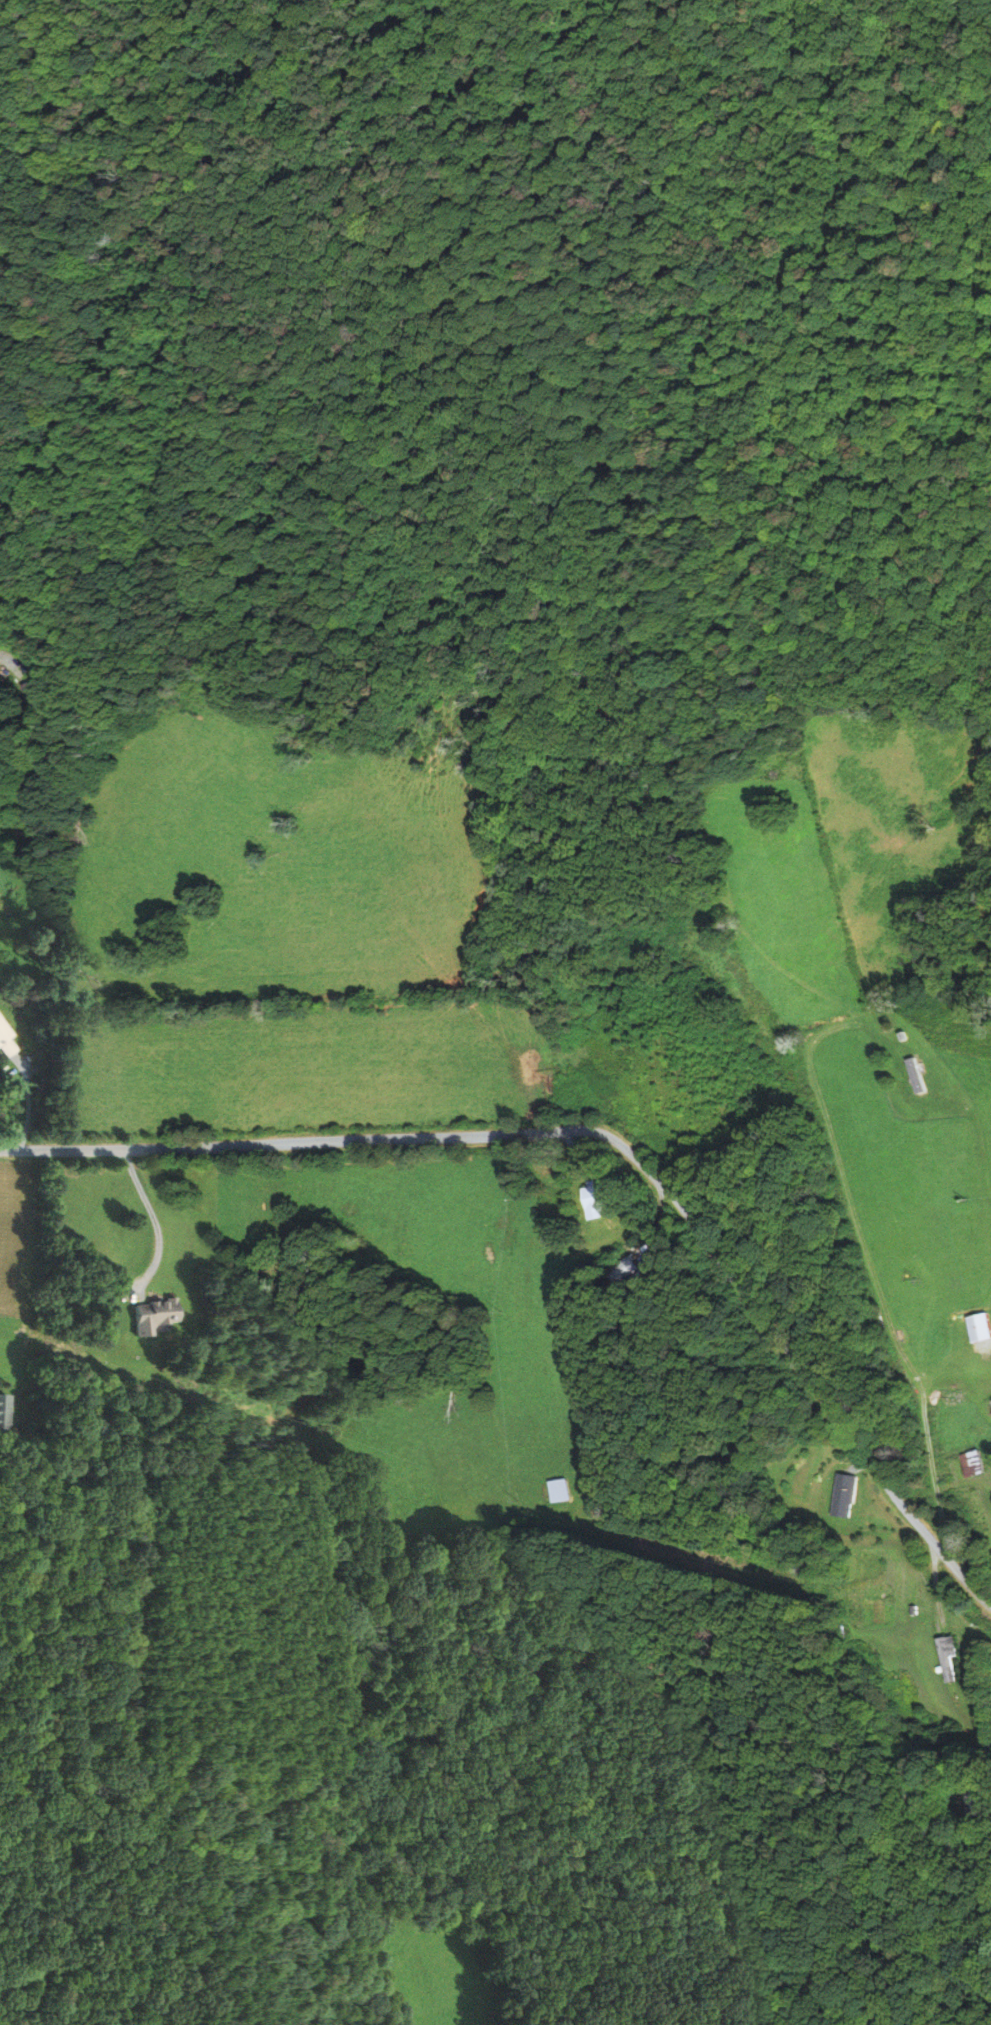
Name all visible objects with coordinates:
building: (33, 693)
building: (4, 1043)
building: (909, 1075)
road: (29, 1101)
road: (607, 1135)
building: (587, 1201)
road: (154, 1218)
building: (155, 1316)
building: (989, 1408)
building: (968, 1464)
building: (558, 1490)
building: (843, 1495)
building: (955, 1656)

